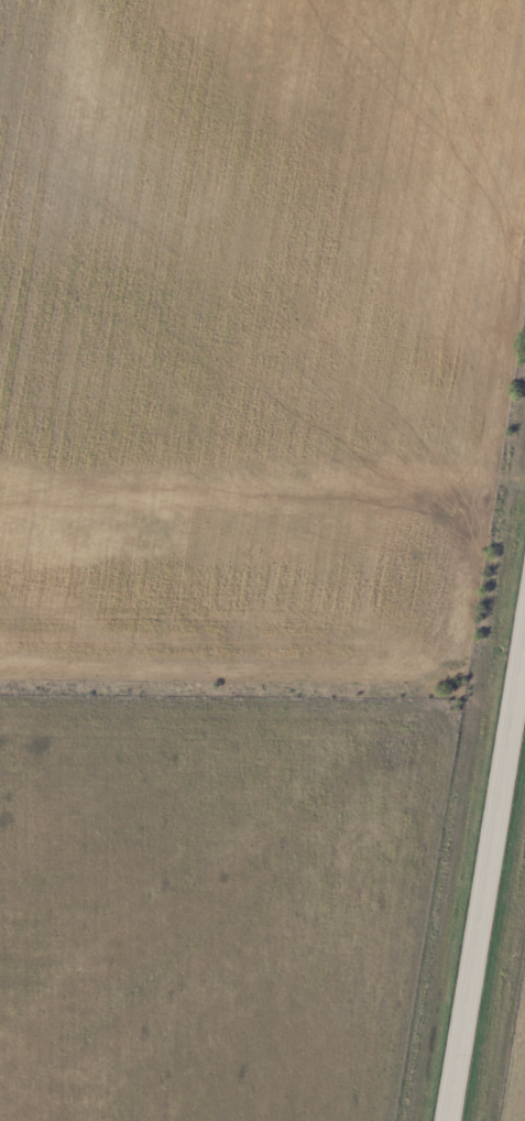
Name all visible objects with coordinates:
road: (488, 893)

